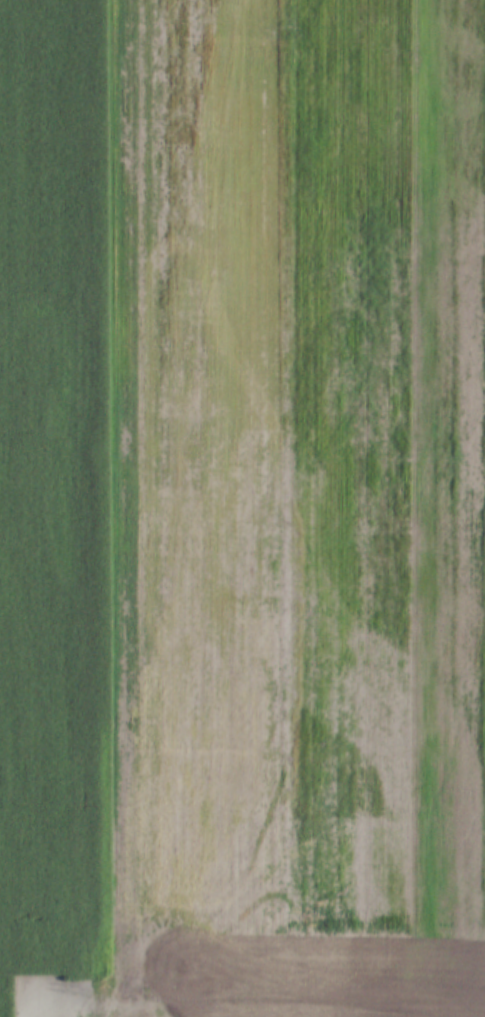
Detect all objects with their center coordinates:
road: (110, 508)

